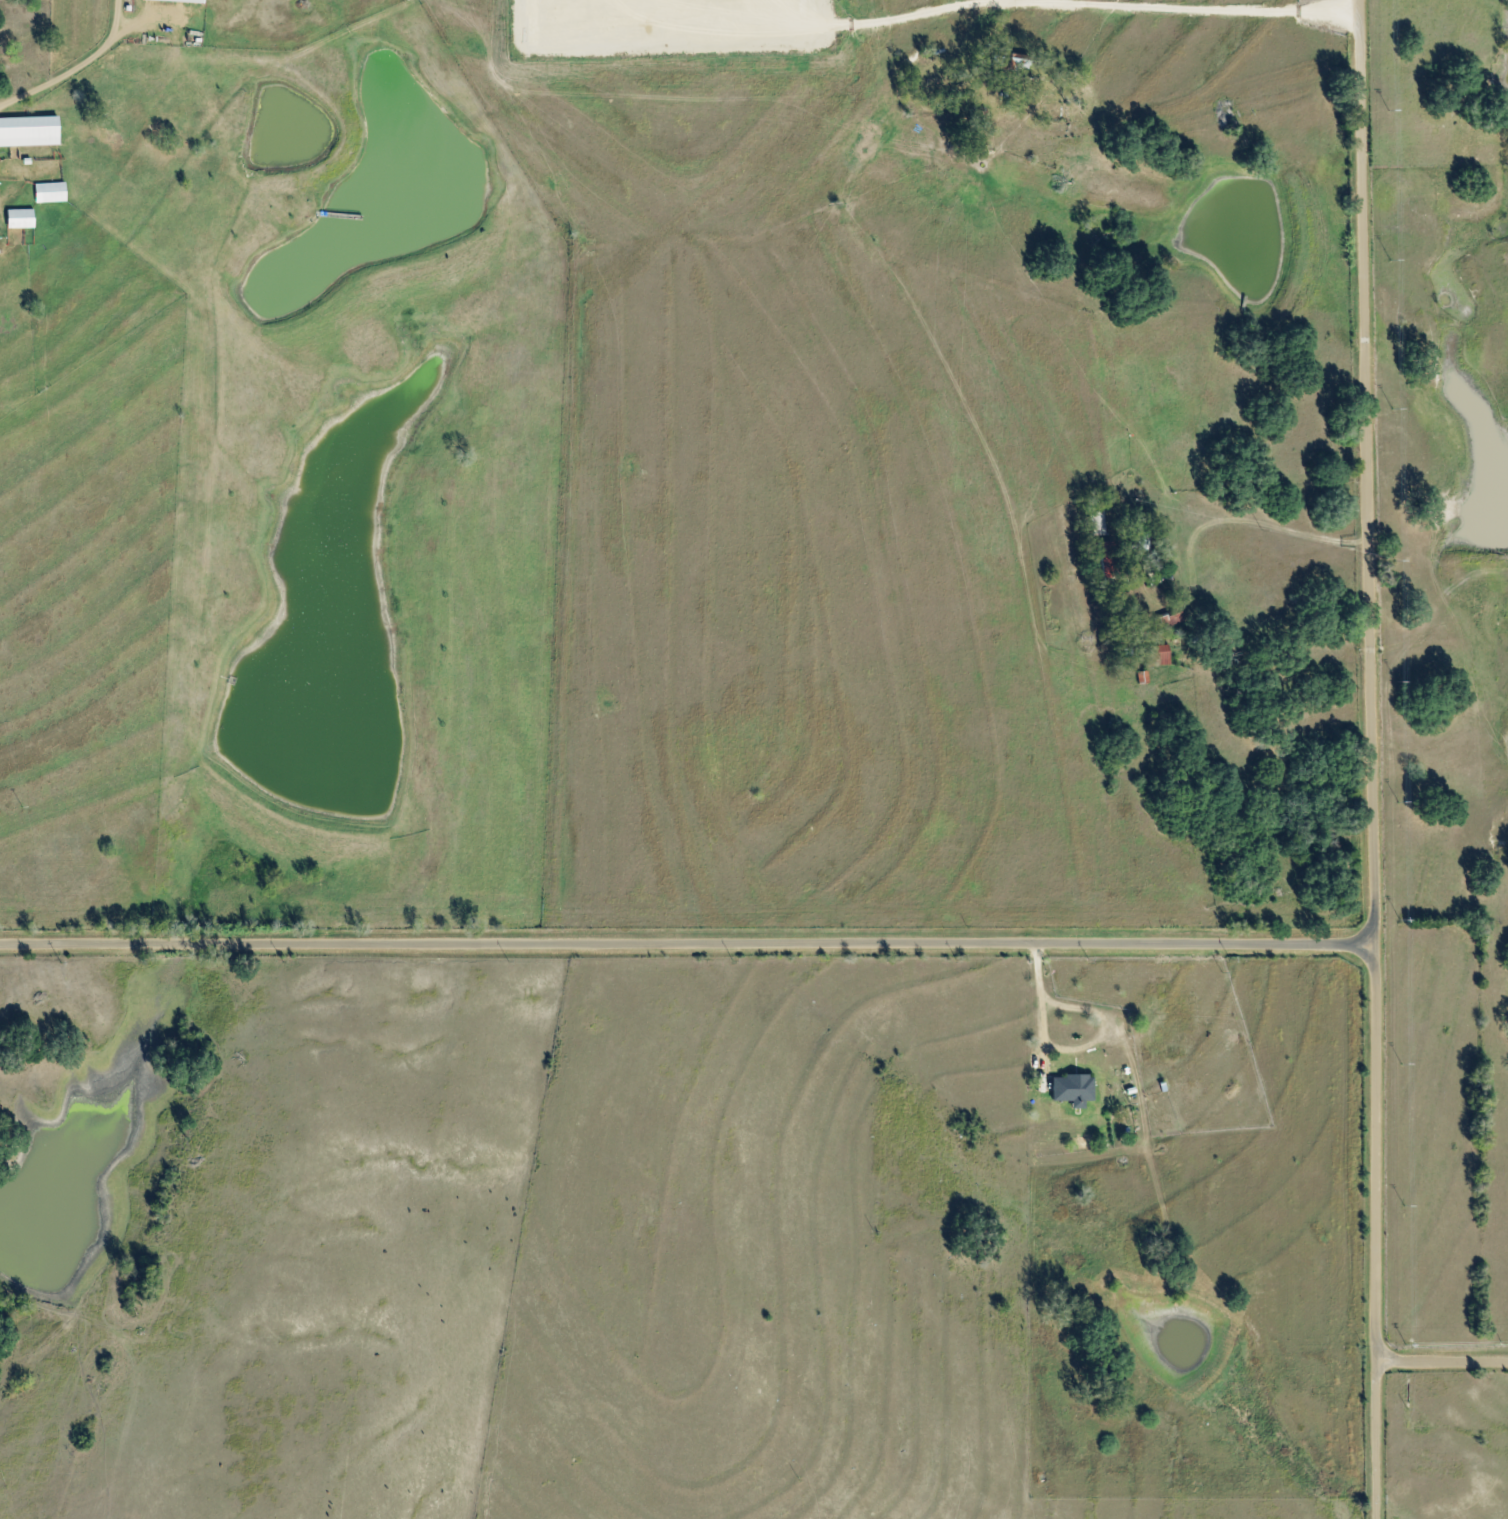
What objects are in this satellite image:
building: (179, 1)
road: (70, 61)
road: (1196, 81)
building: (29, 132)
building: (50, 193)
building: (20, 219)
road: (1263, 514)
building: (1097, 523)
building: (1143, 541)
building: (1108, 559)
building: (1172, 619)
building: (1162, 655)
building: (1143, 677)
road: (1369, 759)
road: (686, 938)
building: (1073, 1090)
road: (1440, 1355)

